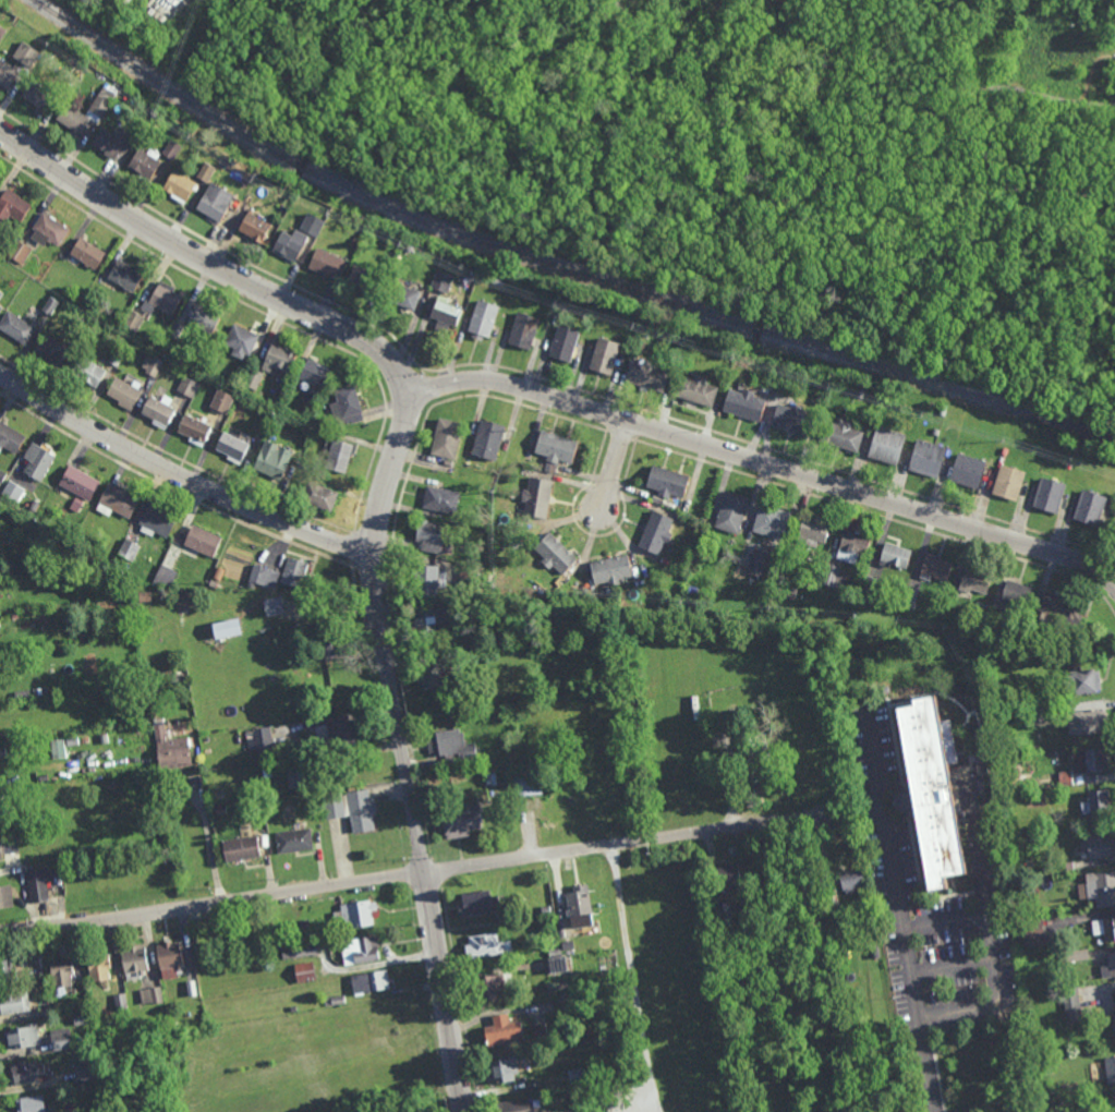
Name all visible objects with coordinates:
building: (129, 0)
building: (2, 32)
building: (26, 53)
building: (77, 60)
building: (7, 73)
building: (39, 95)
building: (100, 105)
road: (575, 111)
building: (74, 118)
road: (427, 126)
building: (113, 141)
park: (755, 146)
building: (171, 148)
building: (146, 162)
building: (206, 171)
building: (245, 181)
building: (180, 185)
building: (216, 201)
building: (13, 205)
building: (313, 223)
building: (255, 226)
building: (49, 230)
road: (858, 242)
building: (290, 244)
building: (408, 247)
building: (20, 251)
building: (88, 253)
building: (329, 264)
road: (218, 266)
railway: (553, 266)
building: (126, 276)
building: (366, 281)
building: (443, 281)
building: (498, 281)
building: (1, 294)
building: (404, 295)
building: (162, 300)
road: (799, 301)
building: (51, 305)
building: (1, 309)
building: (447, 311)
building: (204, 318)
building: (483, 319)
building: (133, 321)
building: (17, 327)
building: (175, 330)
building: (524, 330)
building: (241, 340)
building: (563, 342)
building: (53, 350)
building: (604, 355)
building: (118, 356)
building: (279, 359)
building: (154, 364)
building: (89, 372)
building: (316, 373)
building: (646, 375)
building: (254, 378)
building: (190, 387)
building: (281, 389)
building: (694, 390)
building: (125, 392)
building: (223, 400)
building: (744, 404)
building: (348, 406)
building: (943, 411)
building: (160, 412)
building: (792, 420)
building: (196, 430)
building: (935, 432)
building: (841, 435)
building: (10, 438)
building: (447, 438)
building: (488, 440)
building: (886, 446)
building: (233, 447)
building: (557, 448)
building: (972, 451)
building: (341, 456)
building: (928, 459)
building: (38, 461)
road: (759, 462)
building: (272, 464)
road: (613, 469)
building: (967, 471)
road: (181, 474)
building: (2, 475)
building: (667, 481)
building: (78, 483)
building: (1008, 483)
building: (13, 491)
building: (320, 496)
building: (1049, 496)
building: (537, 498)
building: (441, 499)
building: (118, 501)
building: (77, 503)
building: (1090, 508)
building: (731, 512)
building: (158, 520)
building: (772, 522)
building: (813, 532)
building: (655, 533)
building: (432, 536)
building: (203, 542)
building: (852, 547)
building: (129, 551)
building: (555, 554)
building: (895, 556)
building: (759, 560)
building: (935, 568)
building: (610, 570)
building: (295, 575)
building: (165, 577)
building: (262, 578)
building: (834, 578)
building: (469, 579)
building: (427, 581)
building: (975, 581)
building: (183, 585)
building: (870, 585)
building: (692, 590)
building: (912, 593)
building: (1018, 594)
building: (275, 607)
building: (1059, 612)
building: (444, 624)
building: (1034, 628)
building: (228, 630)
building: (329, 646)
building: (1053, 652)
building: (451, 657)
building: (433, 675)
building: (148, 677)
building: (174, 679)
building: (1082, 682)
building: (886, 689)
building: (142, 690)
building: (40, 692)
building: (23, 696)
building: (158, 708)
building: (1013, 715)
building: (720, 718)
building: (1088, 722)
building: (337, 735)
building: (72, 741)
building: (263, 742)
building: (451, 747)
building: (58, 750)
building: (172, 750)
building: (2, 752)
building: (1090, 760)
road: (407, 763)
building: (762, 771)
building: (298, 777)
building: (490, 779)
building: (1066, 779)
building: (528, 783)
building: (926, 797)
building: (215, 798)
building: (1096, 805)
building: (352, 809)
building: (220, 811)
building: (462, 820)
building: (35, 821)
building: (24, 835)
road: (205, 839)
building: (294, 842)
building: (1100, 845)
building: (1, 848)
building: (241, 849)
road: (894, 873)
road: (412, 875)
building: (728, 875)
building: (852, 880)
building: (36, 886)
building: (1100, 889)
building: (5, 897)
building: (833, 897)
parking lot: (929, 901)
building: (478, 903)
building: (579, 906)
building: (545, 909)
building: (723, 909)
building: (356, 915)
building: (502, 918)
building: (1105, 928)
building: (302, 930)
building: (1031, 931)
building: (727, 935)
building: (568, 944)
building: (487, 946)
building: (306, 950)
building: (361, 951)
road: (991, 955)
building: (1077, 955)
building: (172, 959)
building: (136, 962)
building: (557, 963)
building: (101, 967)
building: (1110, 967)
building: (8, 970)
building: (306, 972)
building: (63, 974)
building: (43, 975)
road: (633, 979)
building: (371, 982)
building: (556, 984)
building: (488, 987)
building: (193, 988)
building: (152, 995)
building: (335, 1001)
building: (122, 1002)
building: (15, 1003)
building: (1071, 1004)
building: (49, 1010)
building: (81, 1018)
building: (1114, 1019)
building: (174, 1027)
building: (501, 1030)
building: (541, 1032)
building: (26, 1036)
building: (62, 1039)
building: (1111, 1069)
building: (86, 1071)
building: (1047, 1071)
building: (27, 1072)
building: (500, 1072)
building: (574, 1074)
road: (929, 1075)
building: (33, 1104)
building: (514, 1105)
building: (102, 1108)

